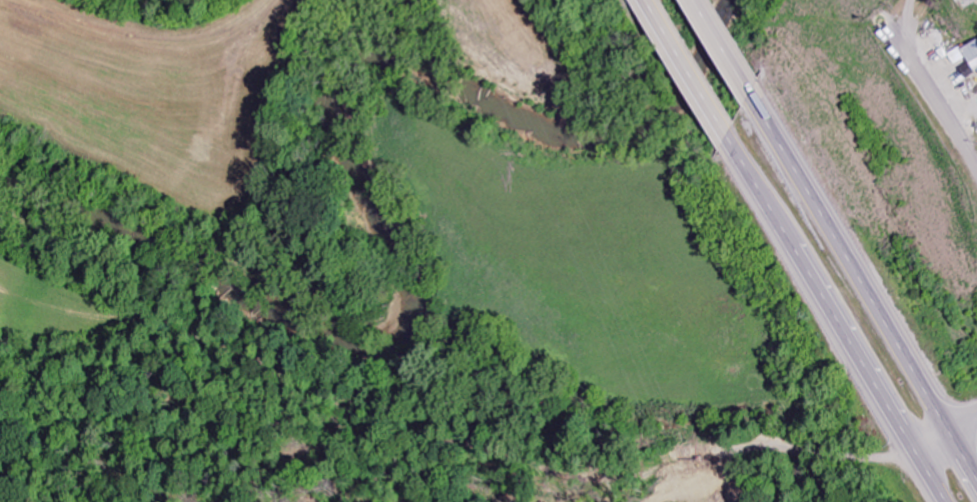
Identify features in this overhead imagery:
road: (726, 47)
building: (966, 55)
road: (689, 68)
road: (932, 96)
road: (864, 281)
road: (836, 319)
road: (946, 435)

